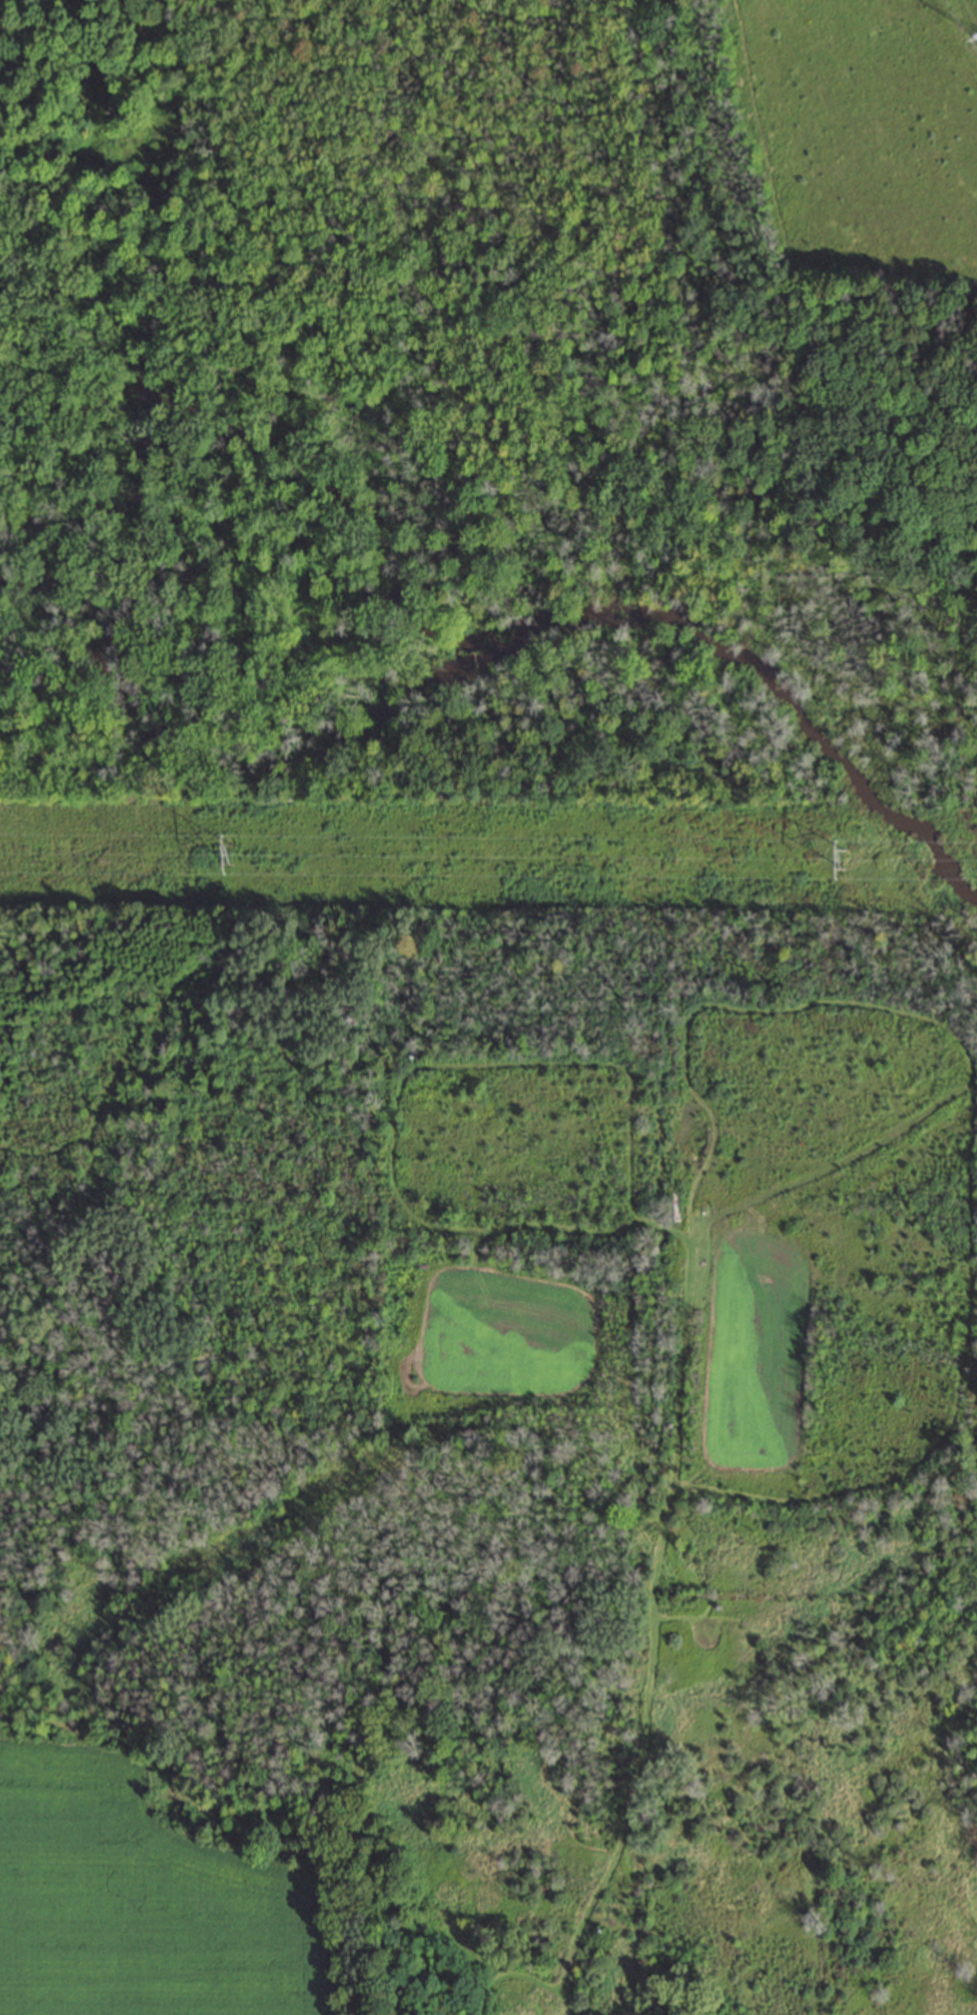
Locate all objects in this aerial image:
river: (885, 800)
power tower: (230, 851)
power tower: (844, 857)

